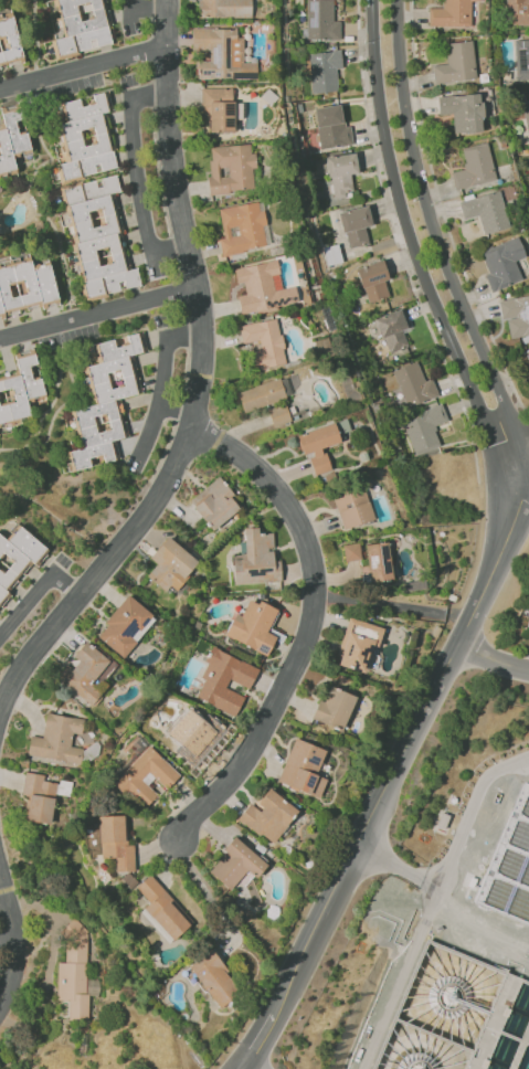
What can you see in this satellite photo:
road: (147, 4)
building: (225, 8)
building: (517, 12)
building: (451, 13)
building: (320, 20)
building: (81, 27)
building: (8, 42)
building: (221, 54)
building: (521, 60)
building: (455, 63)
road: (83, 68)
building: (324, 71)
building: (218, 108)
building: (462, 112)
building: (526, 115)
building: (330, 126)
building: (10, 137)
road: (171, 145)
building: (474, 167)
building: (231, 168)
road: (135, 172)
building: (340, 173)
building: (93, 198)
building: (485, 211)
road: (443, 214)
building: (355, 225)
building: (242, 227)
road: (438, 245)
road: (396, 246)
road: (412, 251)
building: (331, 254)
building: (502, 263)
building: (372, 281)
building: (24, 285)
building: (262, 288)
road: (98, 314)
building: (516, 315)
building: (392, 329)
building: (264, 342)
road: (202, 359)
road: (160, 382)
building: (413, 384)
building: (19, 389)
building: (264, 394)
building: (105, 401)
road: (177, 411)
building: (278, 415)
building: (423, 428)
road: (500, 443)
building: (319, 444)
road: (528, 477)
road: (497, 494)
building: (214, 502)
building: (351, 507)
building: (350, 552)
building: (15, 558)
building: (255, 560)
building: (378, 561)
building: (169, 565)
road: (98, 573)
road: (38, 591)
road: (391, 604)
building: (528, 622)
building: (125, 626)
building: (253, 626)
road: (308, 628)
building: (359, 645)
road: (491, 659)
building: (86, 673)
building: (223, 680)
building: (334, 708)
building: (194, 735)
building: (56, 739)
road: (522, 760)
road: (522, 765)
building: (303, 769)
building: (145, 776)
road: (391, 776)
building: (38, 797)
building: (267, 816)
building: (115, 843)
building: (235, 864)
building: (510, 865)
road: (443, 883)
road: (204, 892)
road: (433, 907)
building: (160, 910)
road: (9, 939)
road: (4, 942)
road: (45, 961)
building: (75, 972)
building: (213, 978)

